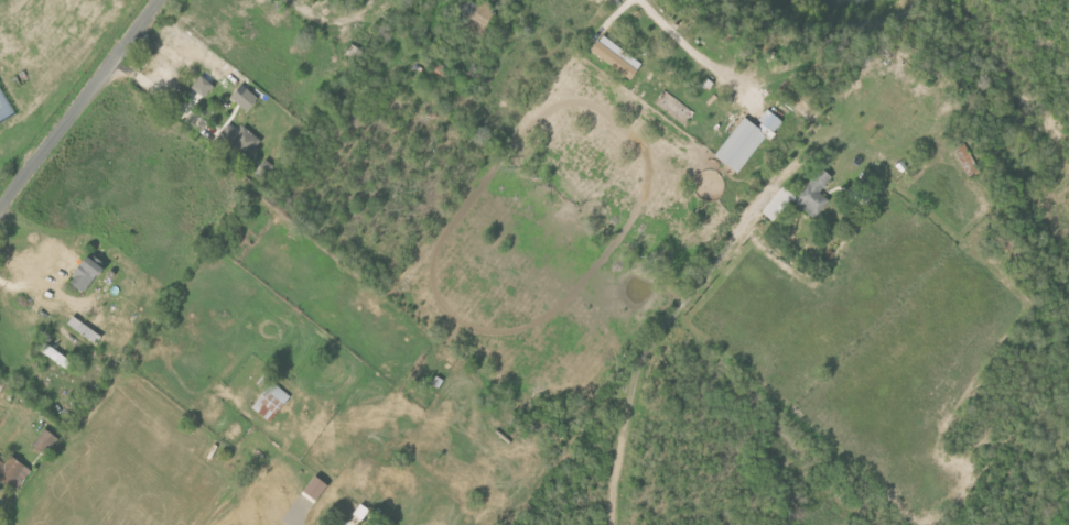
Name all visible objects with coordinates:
river: (850, 7)
building: (474, 14)
road: (703, 45)
building: (618, 57)
building: (441, 70)
building: (204, 87)
road: (79, 102)
building: (747, 140)
building: (237, 142)
building: (802, 197)
road: (52, 253)
building: (88, 275)
road: (665, 328)
building: (57, 356)
building: (270, 398)
building: (46, 440)
building: (14, 471)
road: (259, 512)

